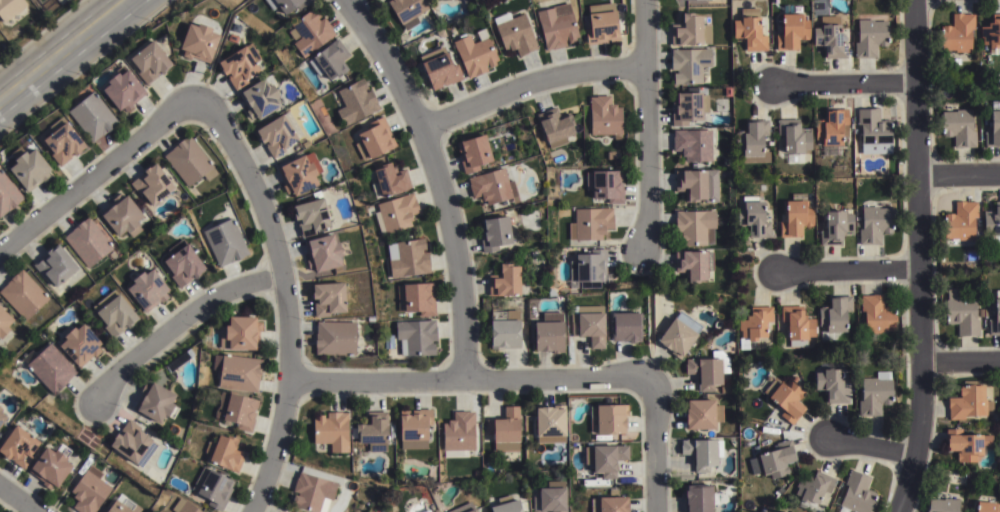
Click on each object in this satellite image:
building: (266, 0)
building: (689, 0)
building: (286, 3)
building: (10, 9)
building: (405, 9)
building: (601, 25)
building: (556, 27)
building: (310, 30)
building: (749, 31)
building: (690, 32)
building: (792, 32)
building: (514, 34)
building: (956, 34)
building: (232, 36)
building: (991, 37)
building: (198, 38)
building: (871, 38)
building: (831, 42)
road: (62, 46)
building: (473, 56)
building: (329, 57)
building: (966, 57)
building: (152, 59)
building: (238, 63)
building: (691, 66)
building: (440, 67)
road: (531, 83)
road: (842, 83)
building: (124, 86)
building: (727, 92)
building: (259, 95)
building: (355, 100)
building: (688, 110)
building: (93, 114)
building: (605, 115)
building: (556, 127)
road: (647, 127)
building: (958, 128)
building: (993, 128)
building: (833, 130)
building: (275, 132)
building: (874, 133)
building: (374, 137)
building: (794, 137)
building: (64, 140)
building: (305, 142)
building: (754, 143)
building: (693, 146)
building: (472, 150)
building: (610, 153)
building: (189, 160)
building: (30, 166)
building: (299, 171)
road: (957, 171)
road: (95, 175)
building: (390, 178)
road: (438, 180)
building: (153, 181)
building: (605, 182)
building: (491, 185)
building: (697, 186)
building: (8, 193)
building: (397, 211)
building: (121, 212)
building: (311, 213)
building: (796, 218)
building: (753, 219)
building: (960, 219)
building: (590, 221)
building: (992, 223)
building: (875, 226)
building: (693, 228)
building: (836, 229)
building: (493, 231)
building: (88, 239)
building: (226, 240)
building: (322, 250)
building: (407, 256)
road: (917, 257)
building: (56, 262)
building: (185, 263)
building: (588, 267)
building: (693, 267)
road: (847, 271)
building: (506, 279)
building: (149, 287)
building: (23, 293)
road: (286, 294)
building: (328, 296)
building: (416, 296)
building: (979, 311)
building: (985, 311)
building: (961, 312)
building: (117, 313)
building: (995, 315)
building: (834, 317)
building: (879, 317)
building: (4, 319)
road: (179, 322)
building: (755, 322)
building: (589, 324)
building: (625, 325)
building: (799, 325)
building: (241, 331)
building: (503, 332)
building: (679, 332)
building: (548, 334)
building: (416, 335)
building: (335, 336)
building: (81, 342)
building: (180, 358)
road: (960, 360)
building: (50, 366)
building: (708, 368)
building: (240, 371)
road: (470, 380)
building: (832, 383)
building: (875, 393)
building: (786, 396)
building: (157, 400)
building: (969, 401)
building: (0, 406)
building: (0, 408)
building: (238, 409)
building: (702, 412)
building: (2, 416)
building: (609, 418)
building: (551, 423)
building: (415, 427)
building: (506, 429)
building: (373, 430)
building: (331, 431)
building: (459, 434)
building: (134, 442)
road: (870, 443)
building: (967, 443)
building: (18, 445)
road: (652, 445)
building: (226, 451)
building: (700, 452)
building: (606, 457)
building: (773, 460)
building: (51, 464)
building: (214, 486)
building: (89, 490)
building: (812, 490)
building: (312, 491)
building: (857, 493)
road: (19, 497)
building: (551, 497)
building: (699, 497)
building: (611, 503)
building: (507, 504)
building: (942, 504)
building: (122, 505)
building: (185, 506)
building: (986, 506)
building: (466, 508)

